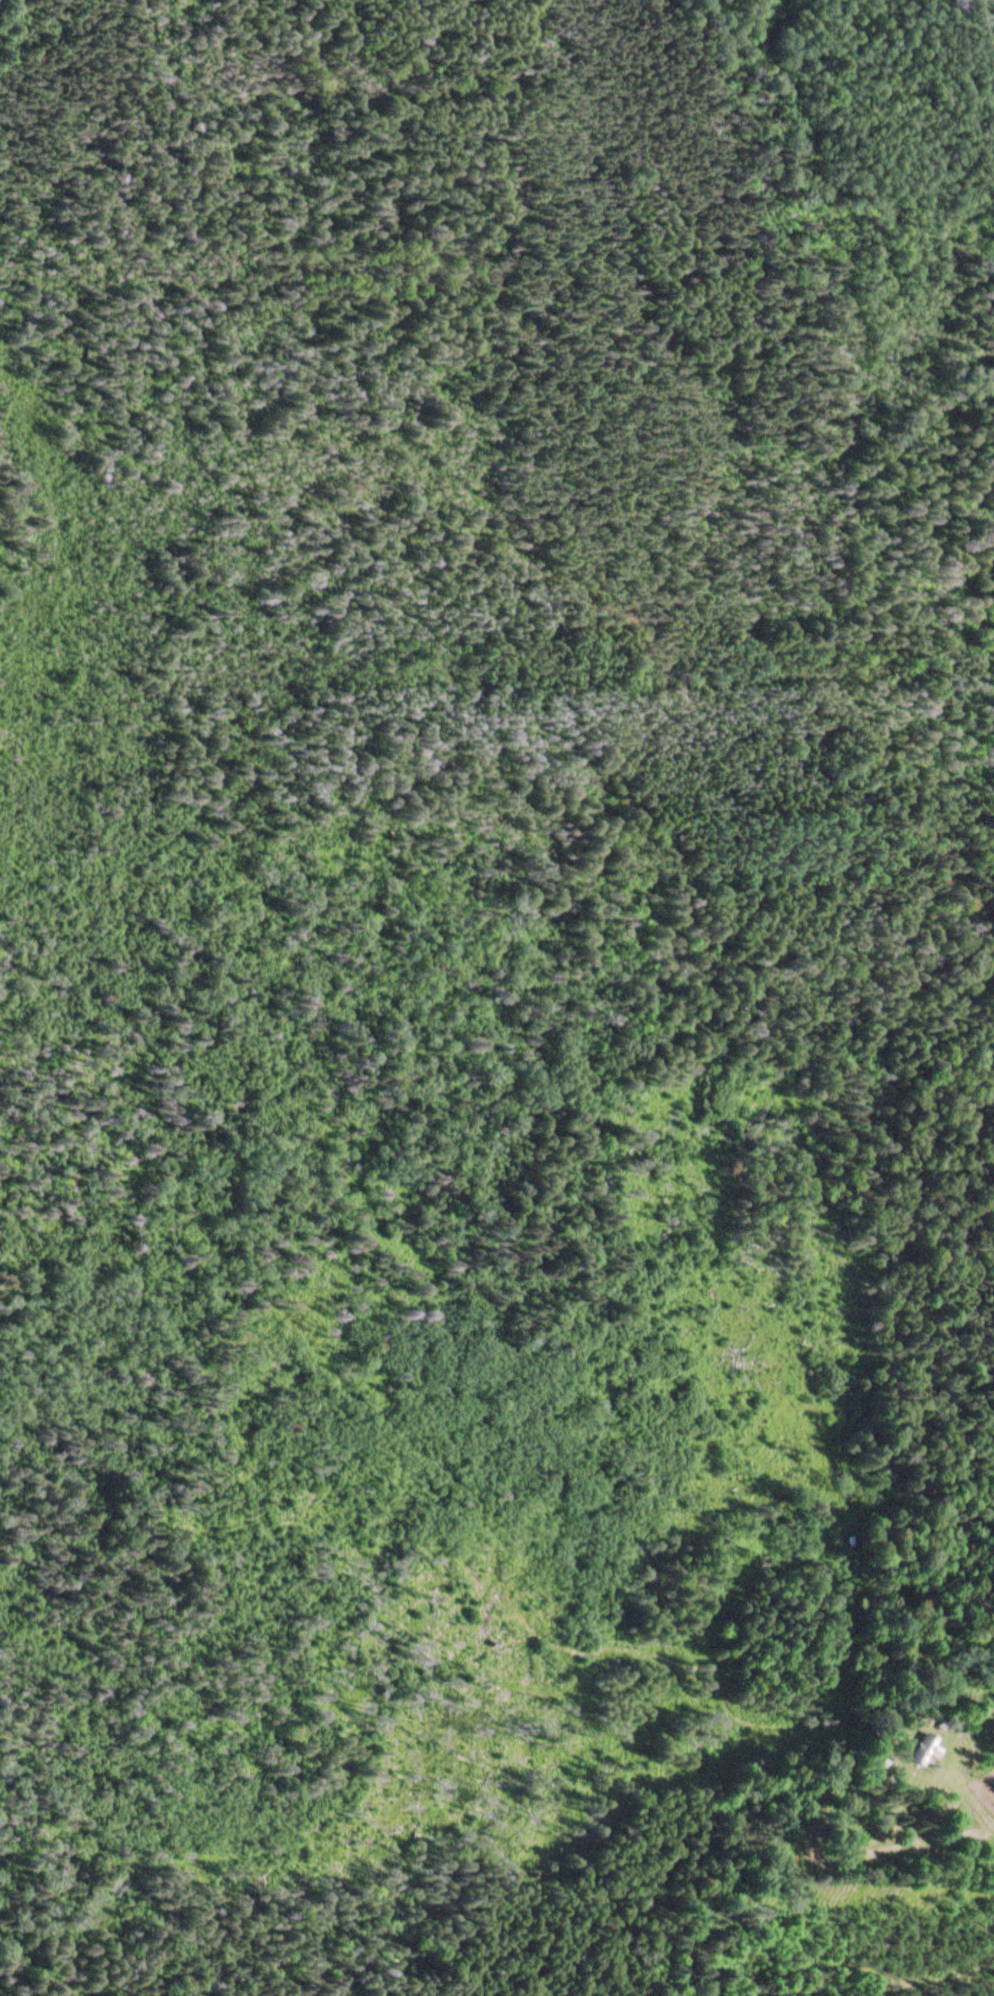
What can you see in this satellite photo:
building: (925, 1749)
road: (965, 1796)
road: (860, 1981)

